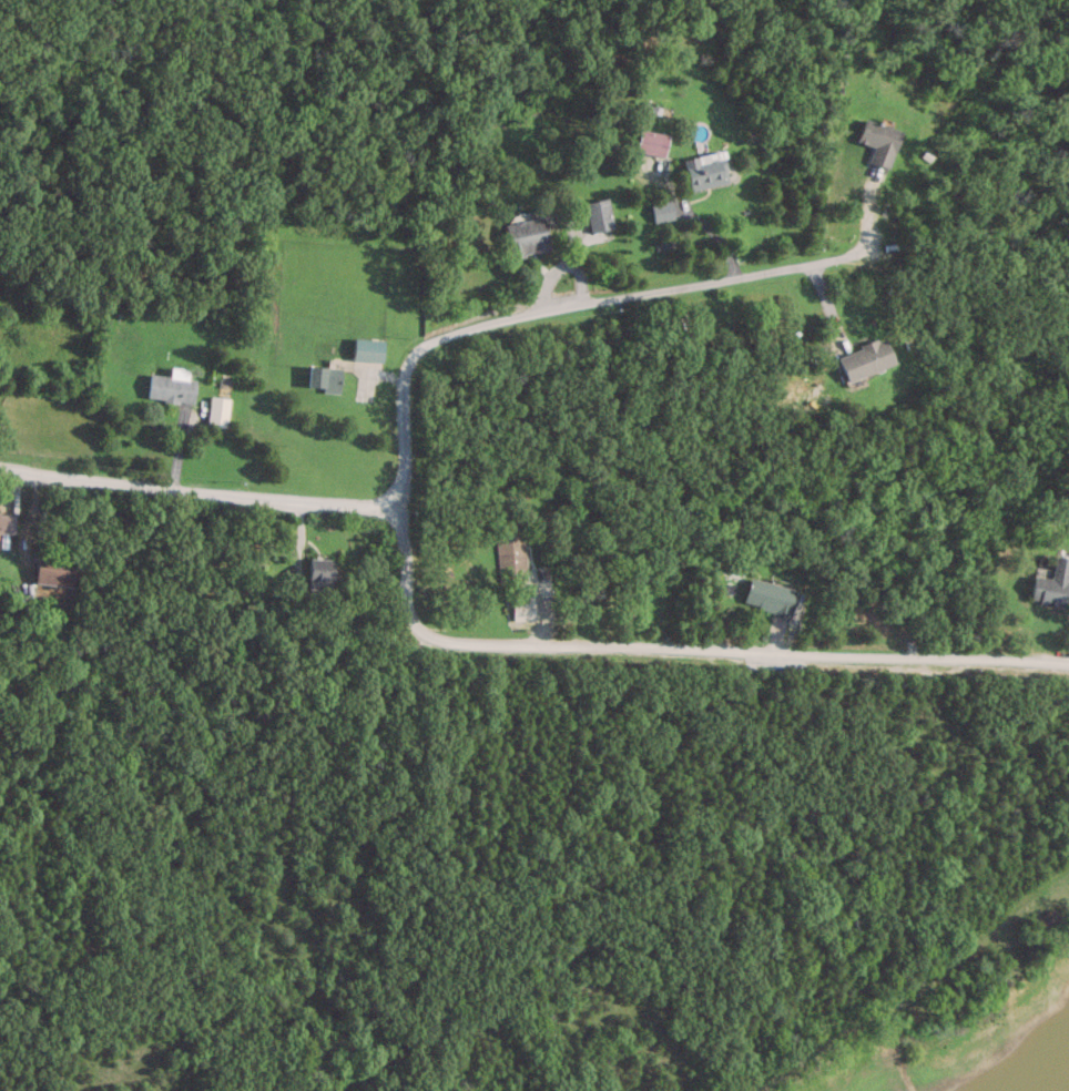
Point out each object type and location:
building: (876, 141)
building: (649, 143)
building: (702, 171)
building: (660, 212)
building: (597, 215)
building: (525, 234)
road: (551, 309)
building: (364, 349)
building: (862, 359)
building: (319, 379)
building: (169, 387)
building: (215, 411)
road: (195, 486)
building: (4, 522)
building: (509, 557)
building: (51, 568)
building: (316, 573)
building: (1050, 584)
building: (766, 597)
building: (520, 608)
road: (678, 651)
building: (1045, 919)
road: (915, 991)

